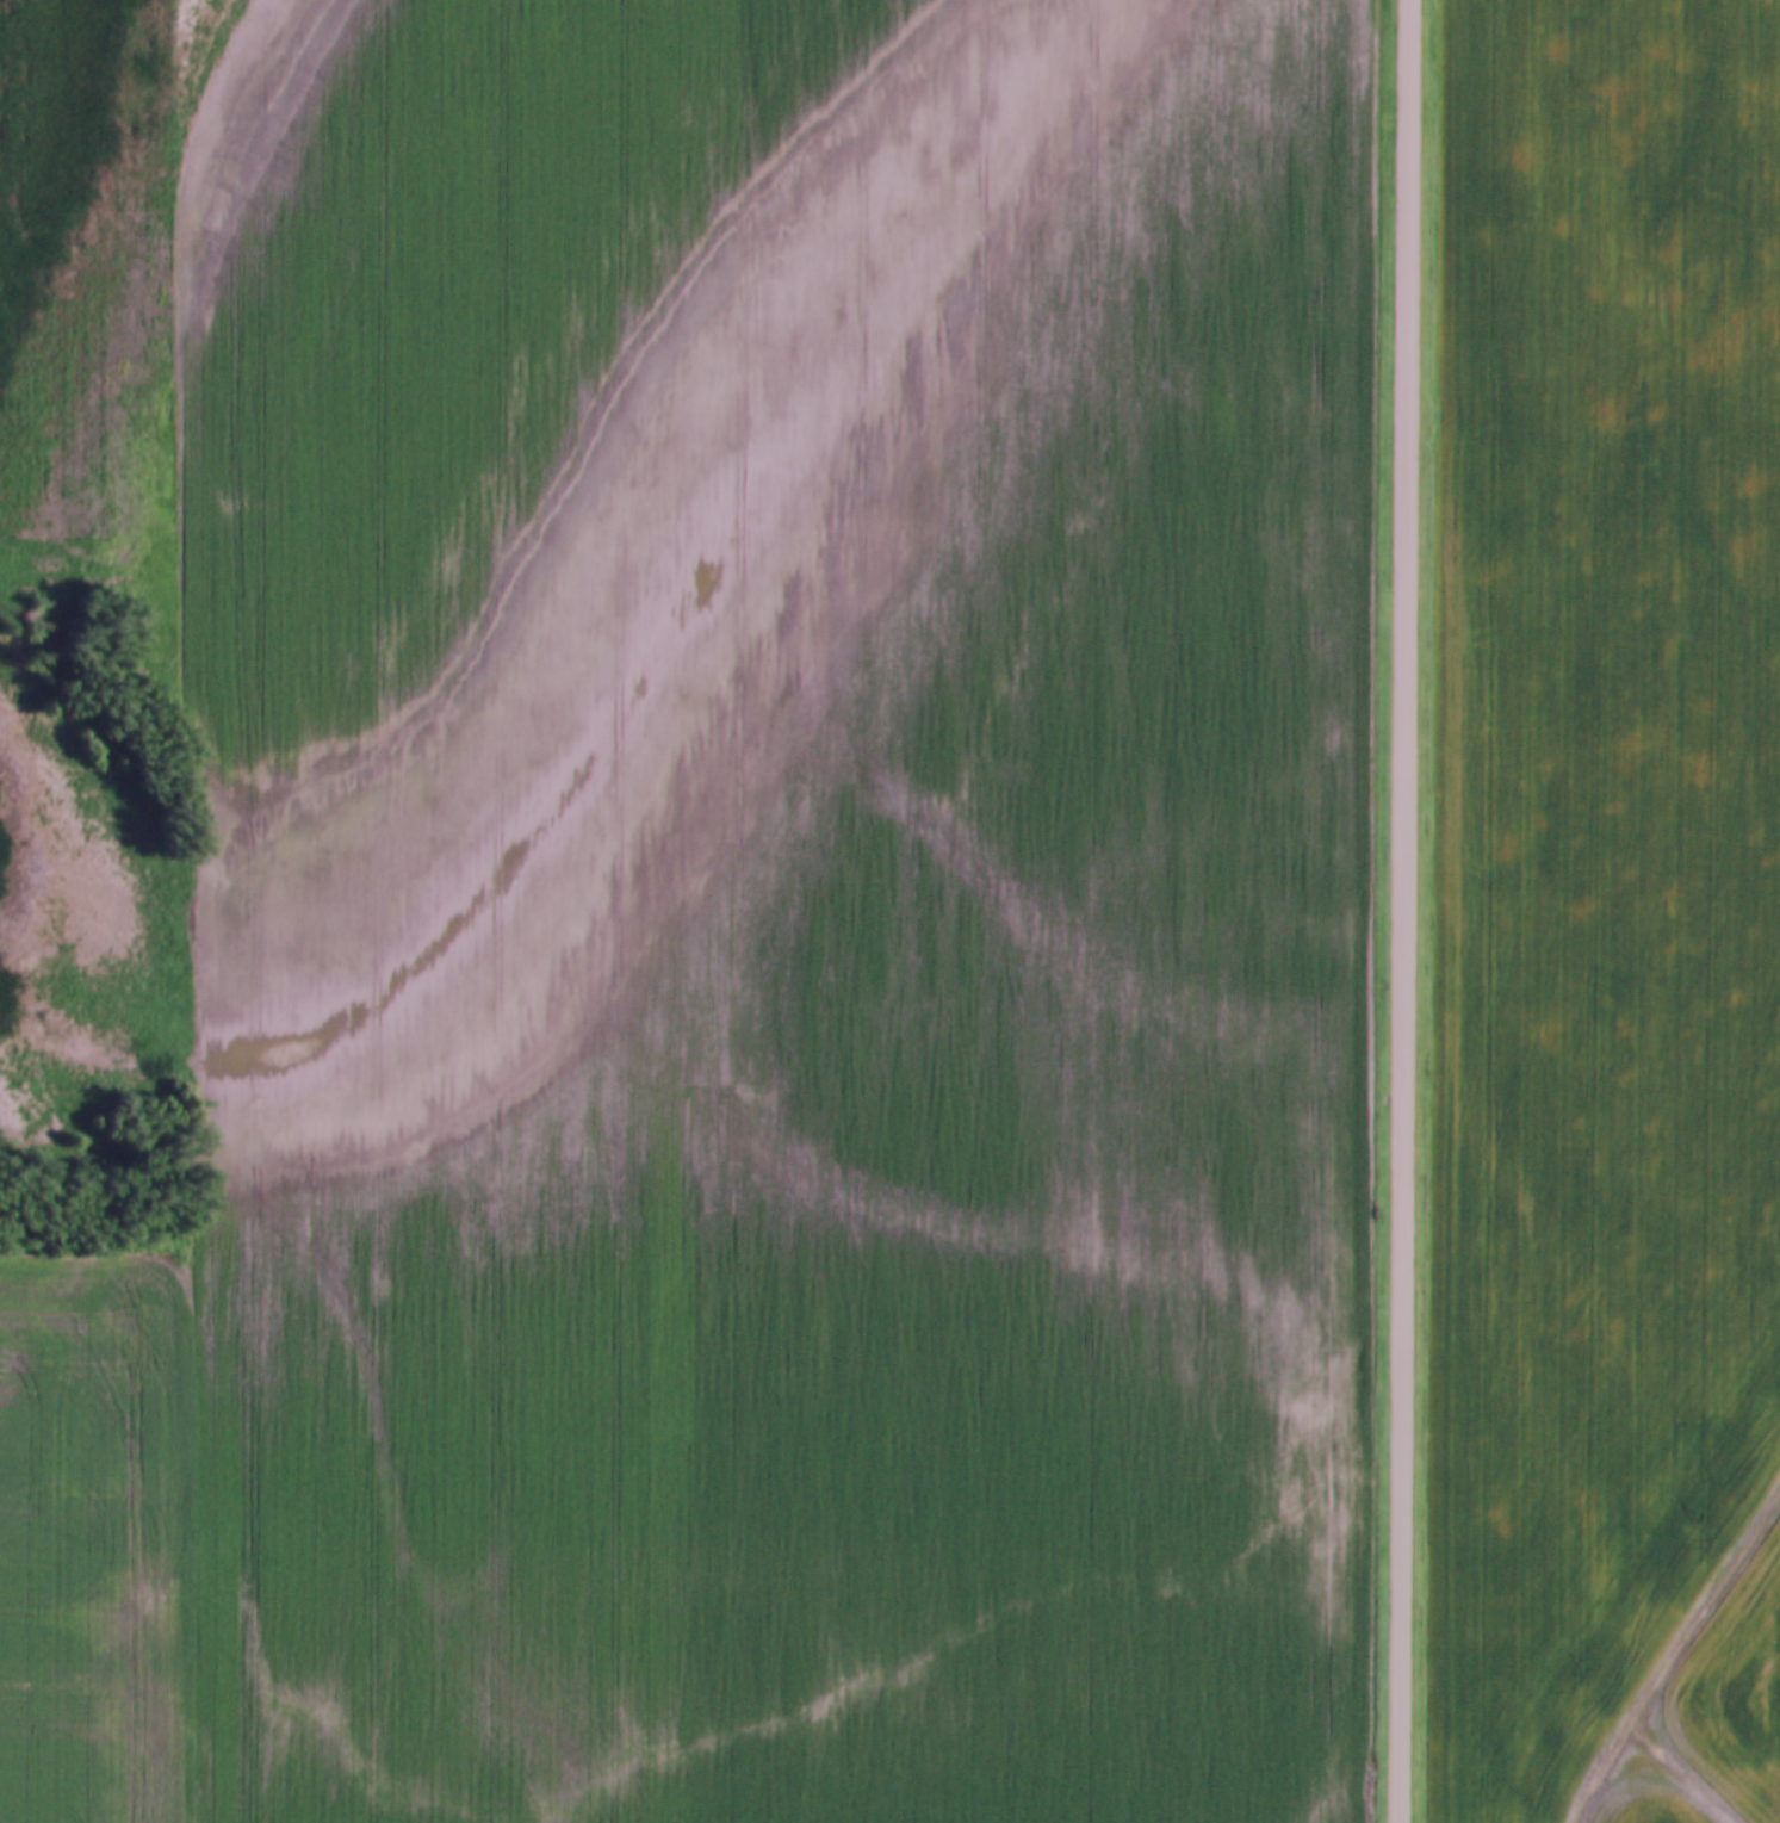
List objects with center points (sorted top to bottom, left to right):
road: (1409, 911)

